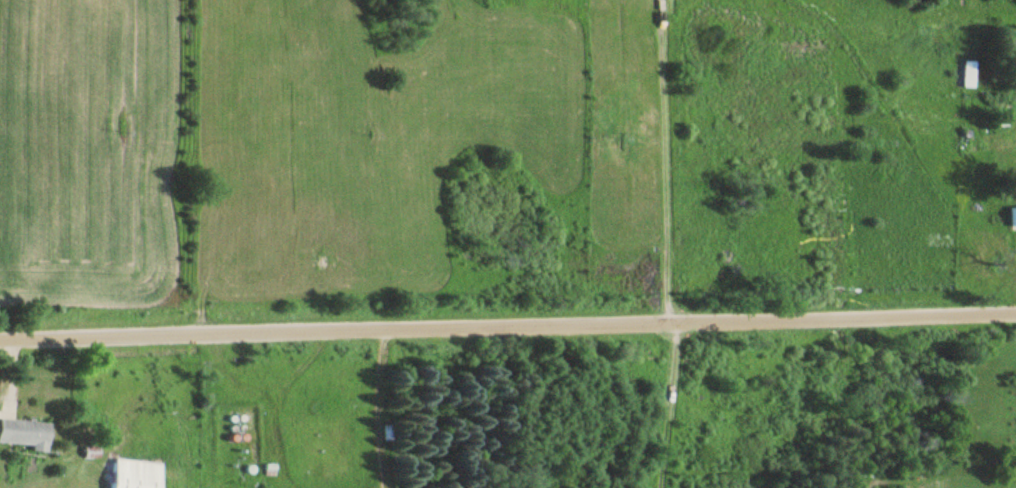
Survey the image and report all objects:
building: (970, 72)
building: (1013, 215)
road: (507, 324)
road: (382, 407)
building: (27, 432)
building: (138, 474)

